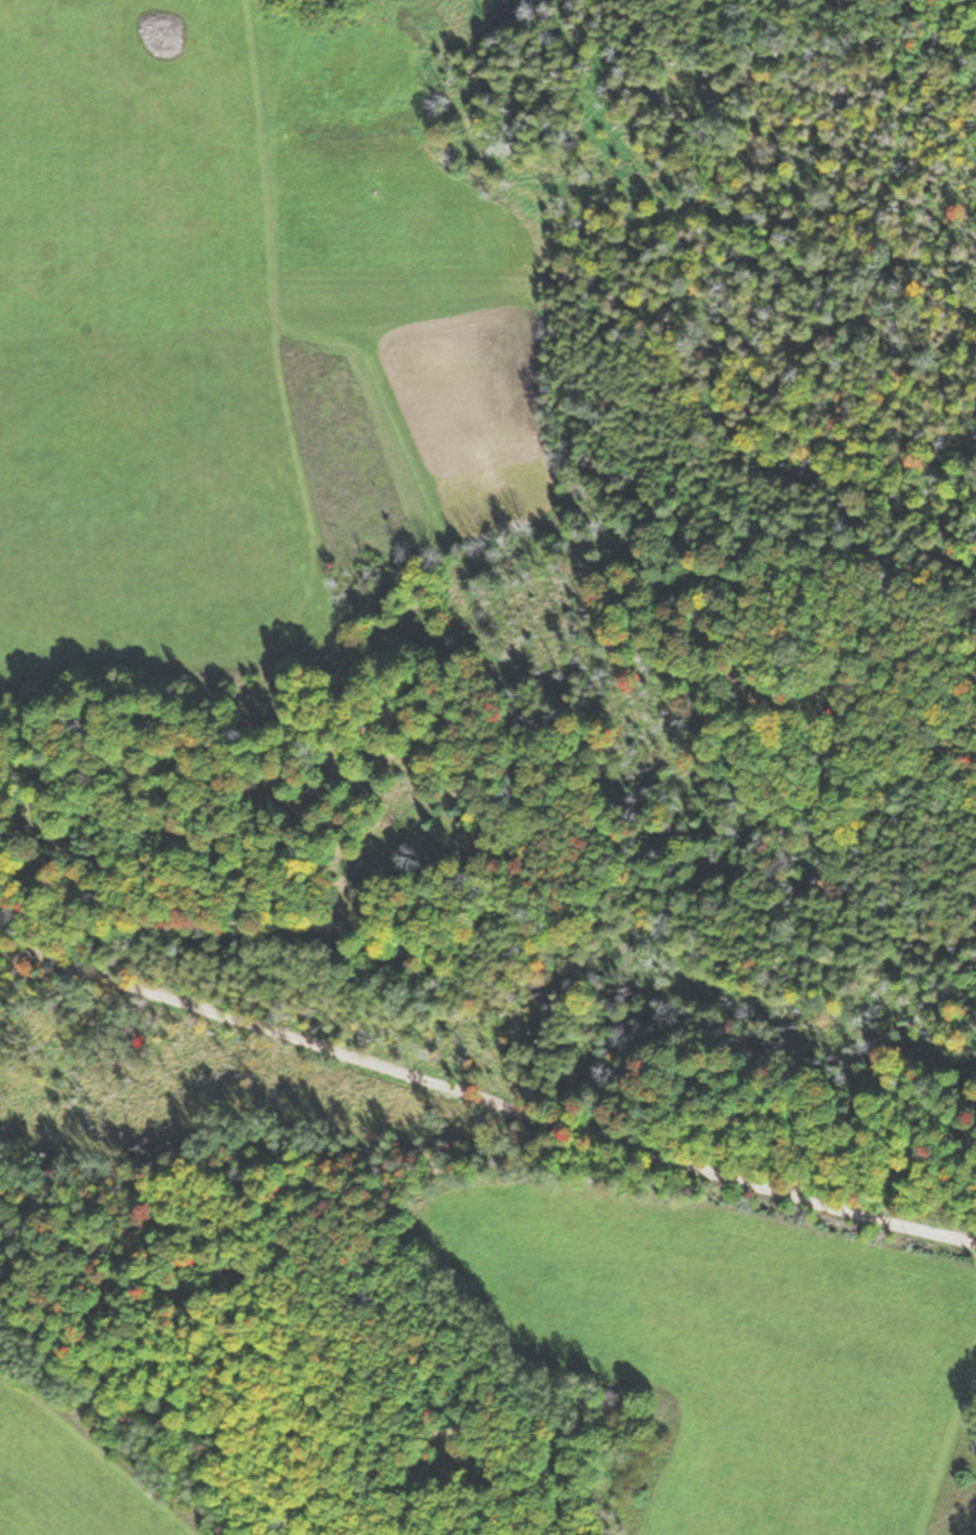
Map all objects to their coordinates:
road: (486, 1101)

